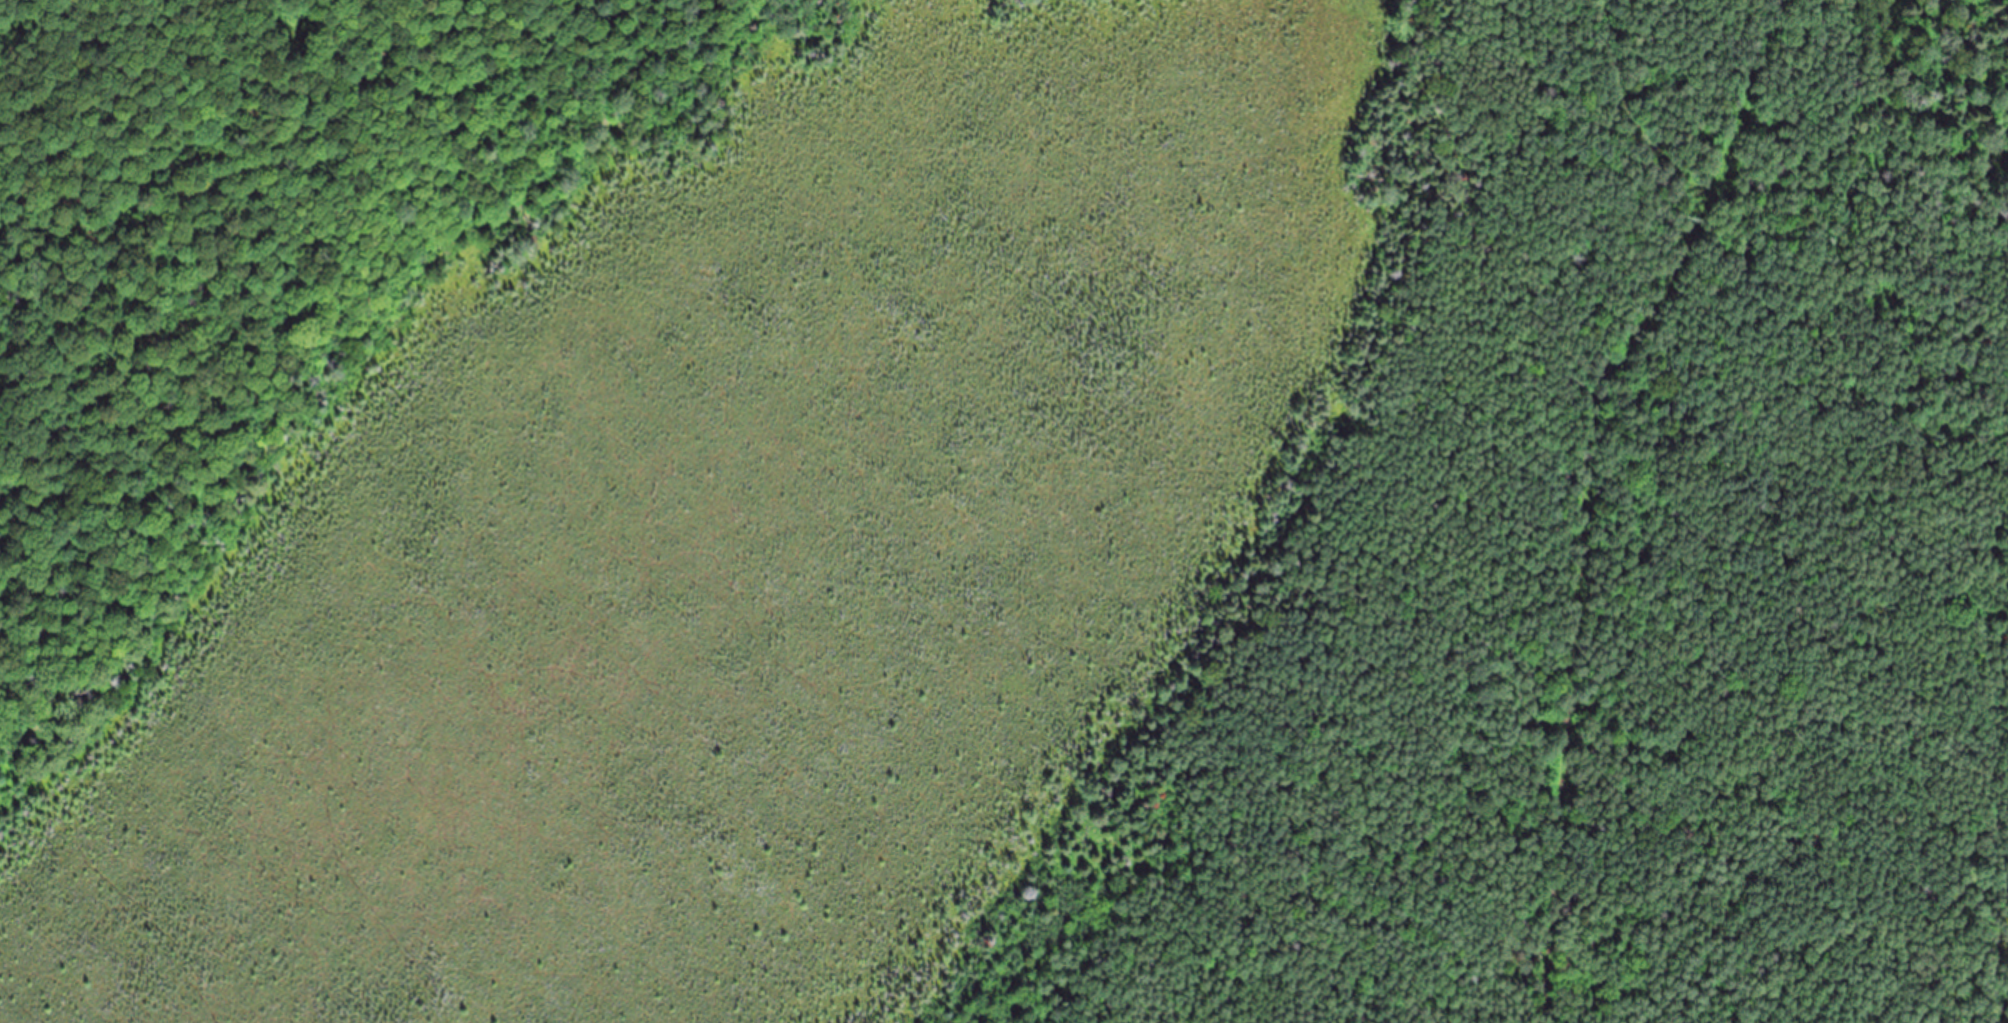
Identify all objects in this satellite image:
road: (1586, 485)

